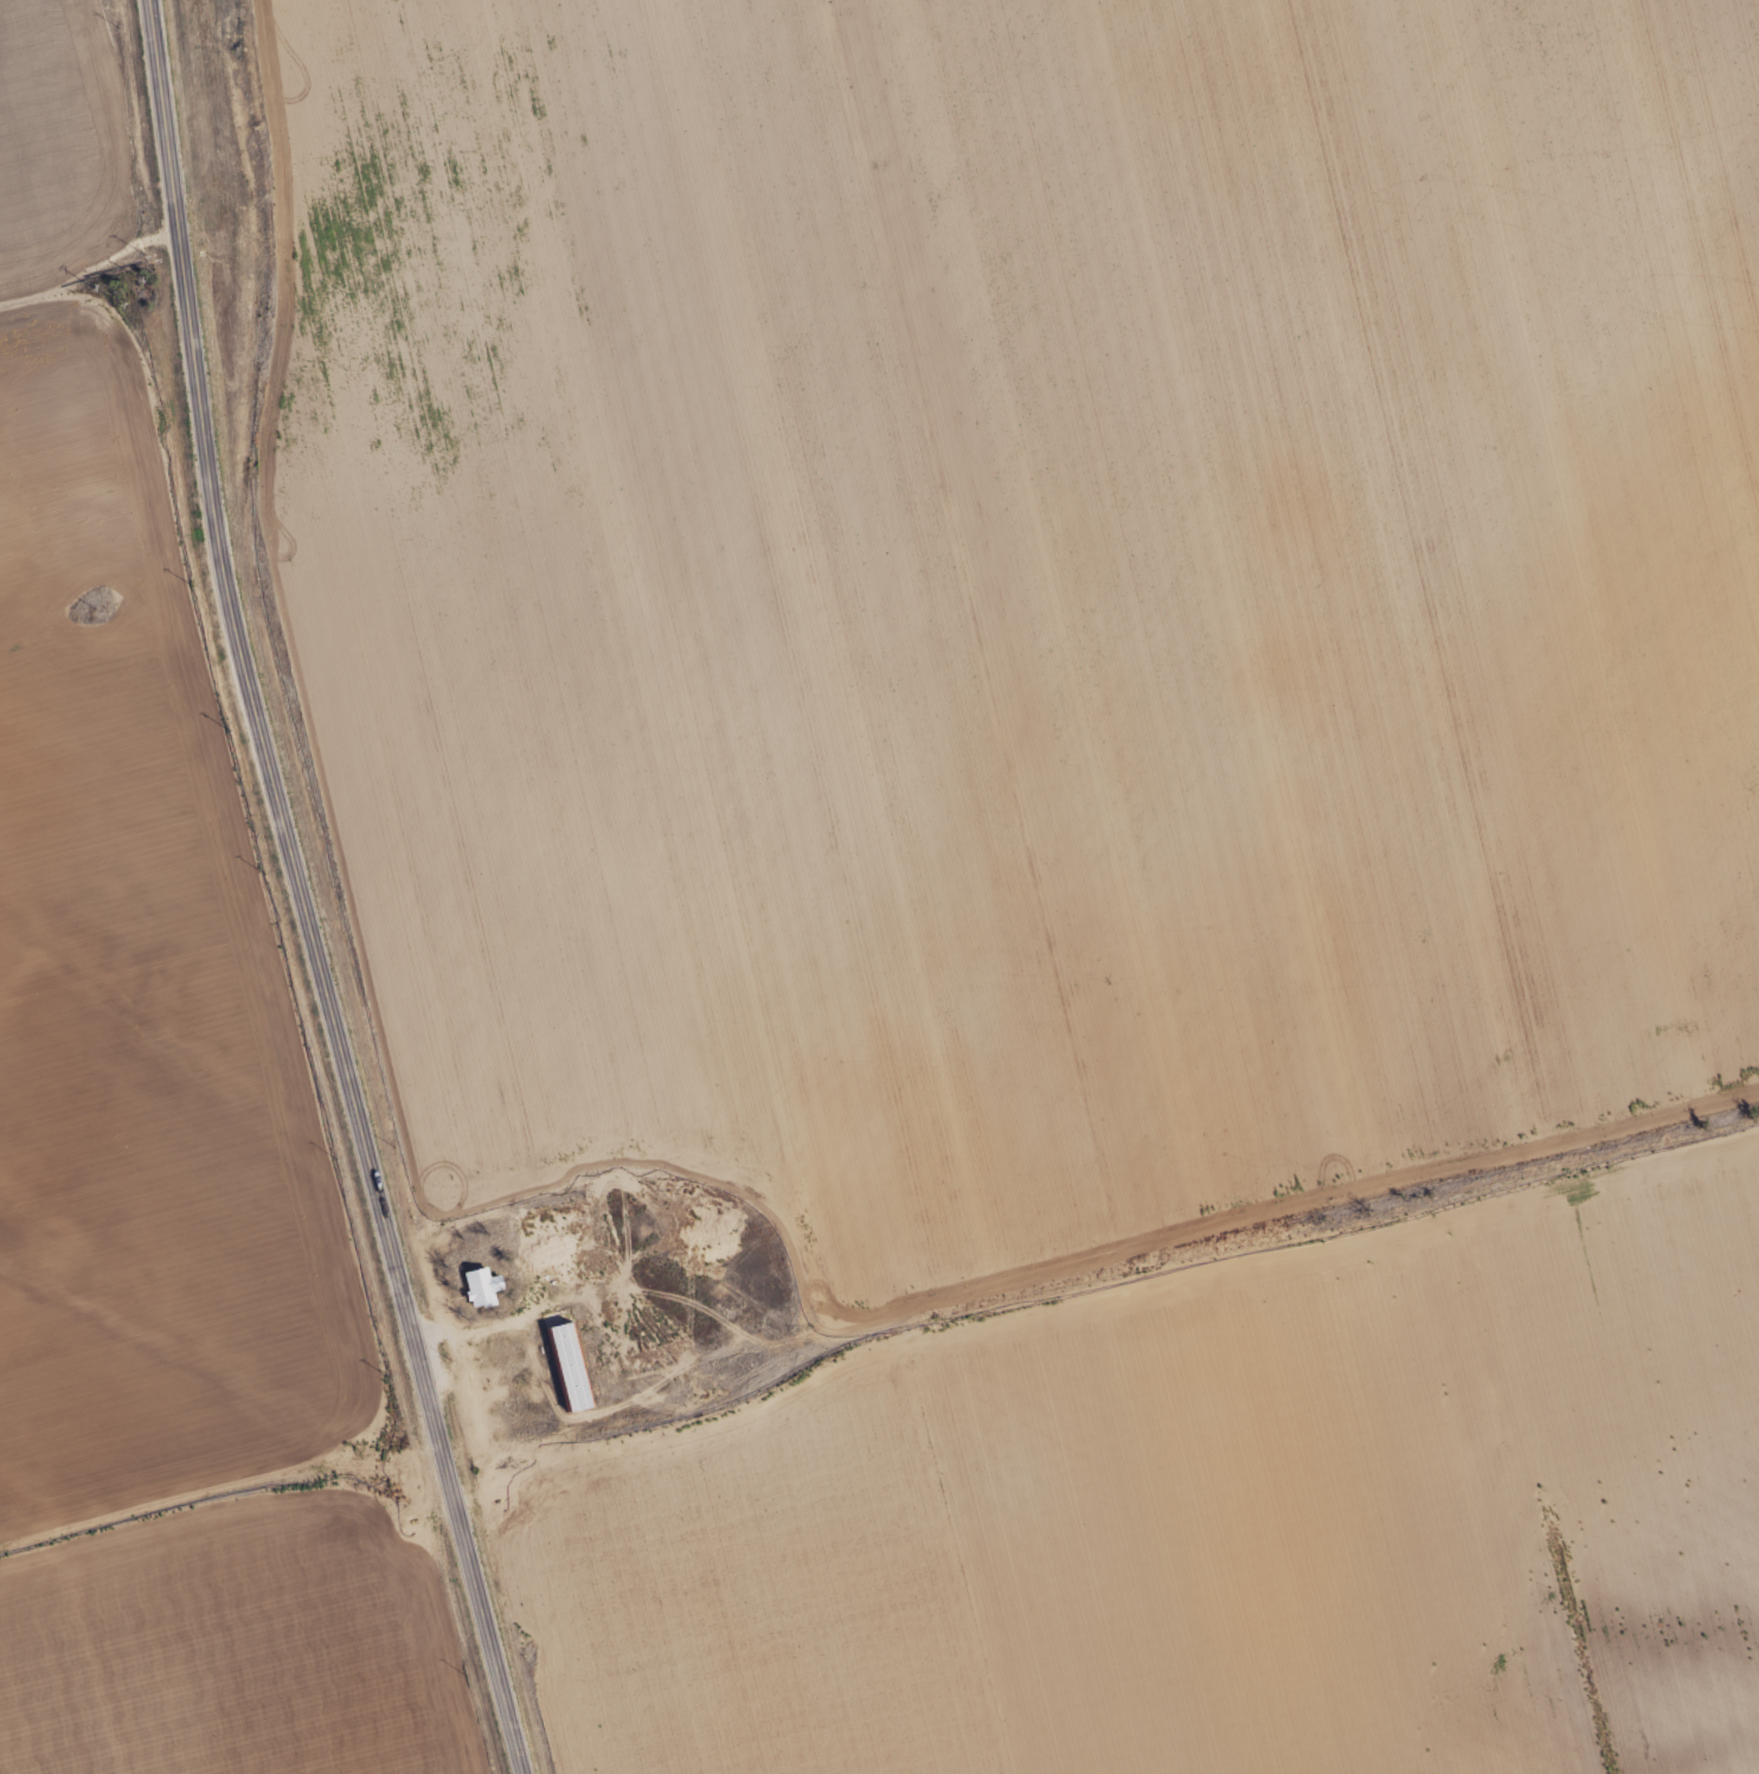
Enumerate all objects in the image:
road: (303, 892)
building: (534, 1223)
building: (481, 1287)
building: (565, 1359)

